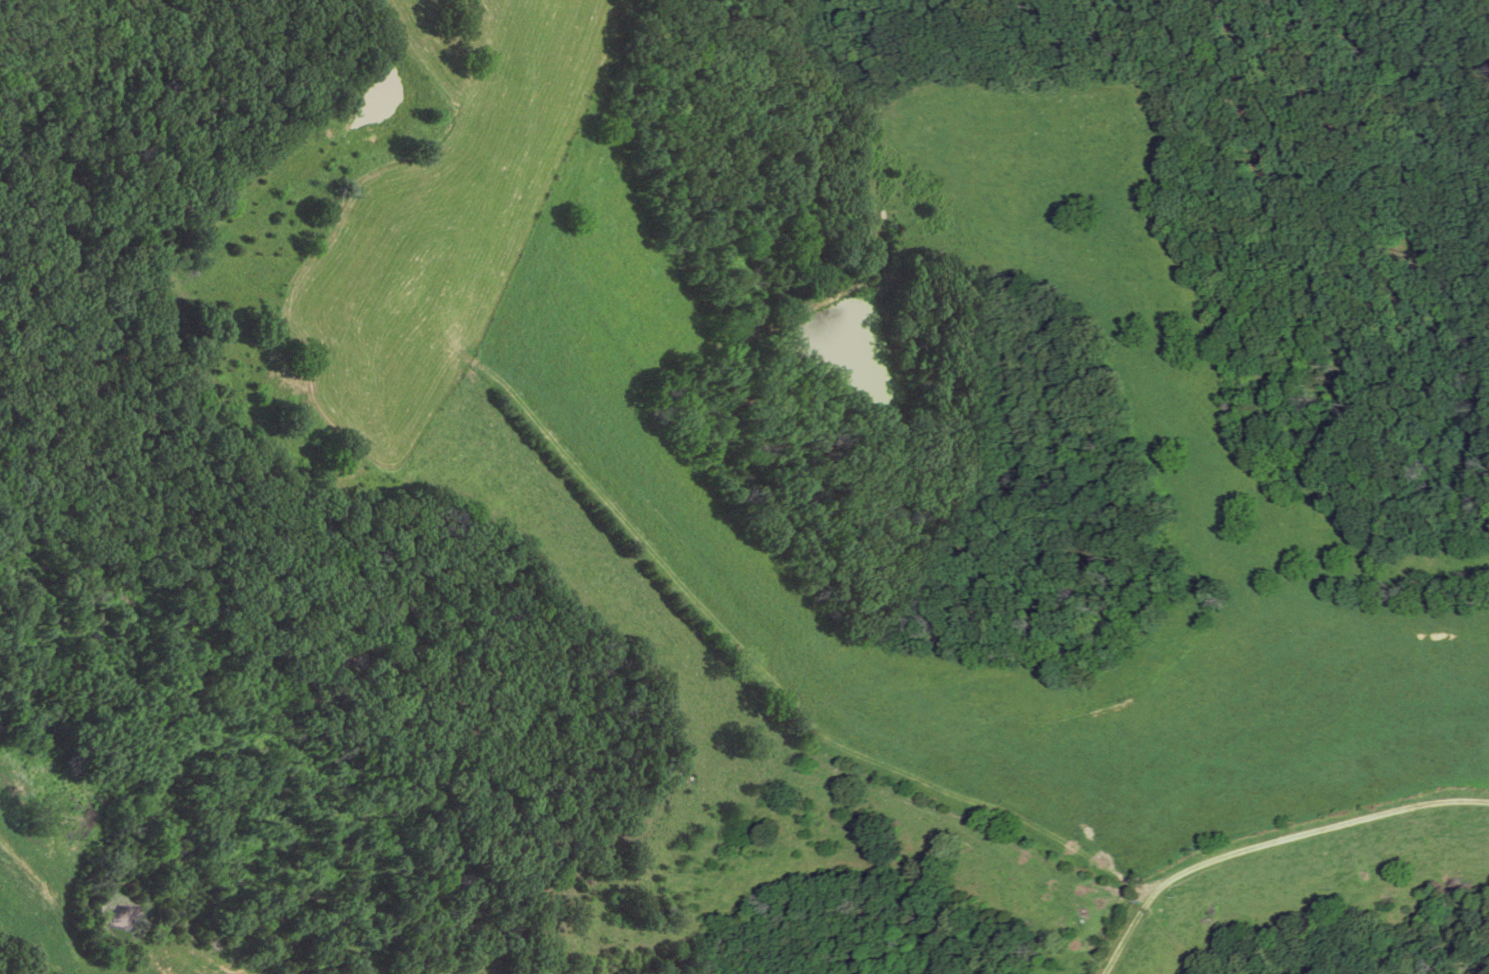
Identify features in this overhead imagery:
road: (1272, 843)

